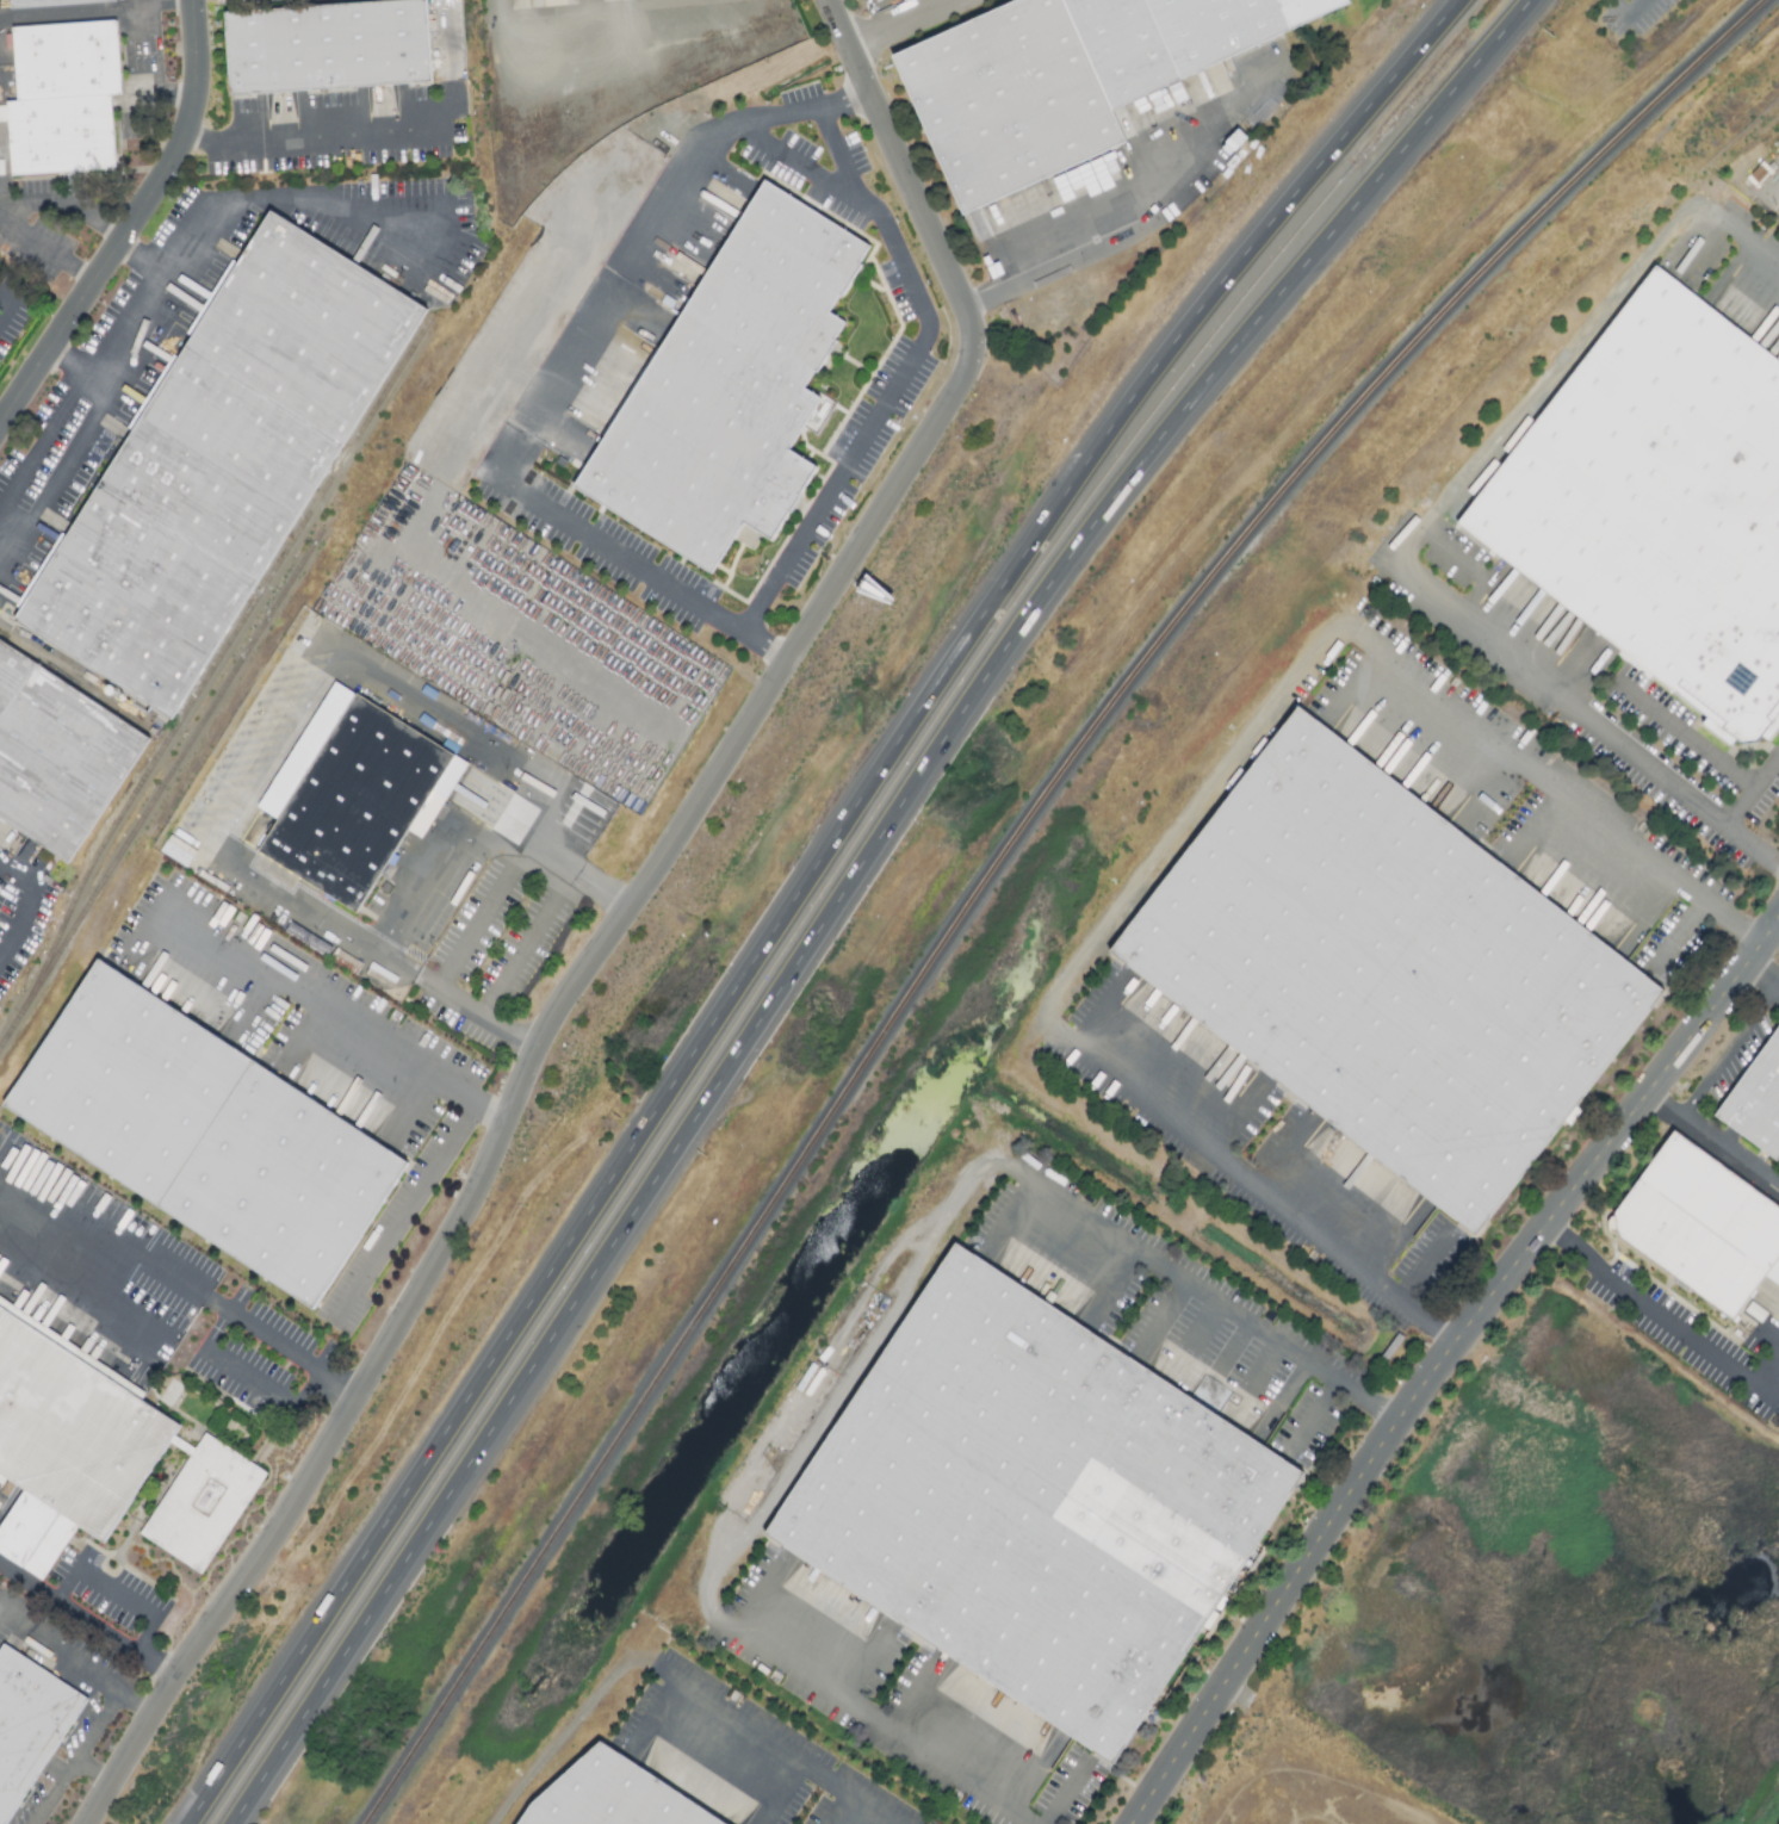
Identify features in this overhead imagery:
building: (56, 4)
road: (97, 10)
road: (1642, 10)
road: (498, 14)
road: (622, 18)
parking lot: (1638, 18)
road: (904, 25)
building: (330, 49)
building: (1074, 82)
building: (67, 98)
road: (314, 135)
road: (804, 165)
road: (287, 197)
road: (64, 205)
road: (1149, 210)
road: (130, 219)
road: (48, 240)
road: (8, 296)
road: (70, 362)
road: (95, 373)
building: (732, 392)
building: (224, 461)
road: (52, 482)
building: (1660, 504)
road: (1427, 526)
road: (636, 565)
railway: (219, 658)
road: (1686, 740)
building: (58, 751)
railway: (159, 789)
road: (1752, 790)
building: (359, 805)
road: (1192, 817)
road: (209, 849)
railway: (1003, 860)
road: (845, 886)
road: (796, 893)
road: (497, 894)
road: (20, 911)
road: (625, 920)
road: (1680, 929)
road: (1762, 972)
building: (1389, 980)
road: (1758, 987)
road: (306, 995)
road: (261, 1010)
road: (296, 1031)
road: (1725, 1055)
building: (1758, 1106)
road: (420, 1115)
building: (205, 1135)
road: (1711, 1136)
road: (965, 1180)
road: (403, 1211)
road: (80, 1221)
building: (1703, 1231)
road: (1427, 1261)
road: (1662, 1315)
road: (1197, 1334)
road: (1439, 1358)
road: (1259, 1373)
road: (267, 1386)
road: (1316, 1412)
building: (69, 1446)
building: (1037, 1506)
building: (206, 1509)
road: (27, 1583)
road: (66, 1588)
road: (758, 1595)
road: (78, 1662)
road: (874, 1668)
road: (678, 1681)
road: (910, 1690)
road: (649, 1712)
road: (874, 1723)
road: (95, 1729)
building: (31, 1732)
road: (93, 1776)
road: (1065, 1791)
road: (52, 1794)
road: (787, 1794)
building: (614, 1797)
road: (832, 1807)

